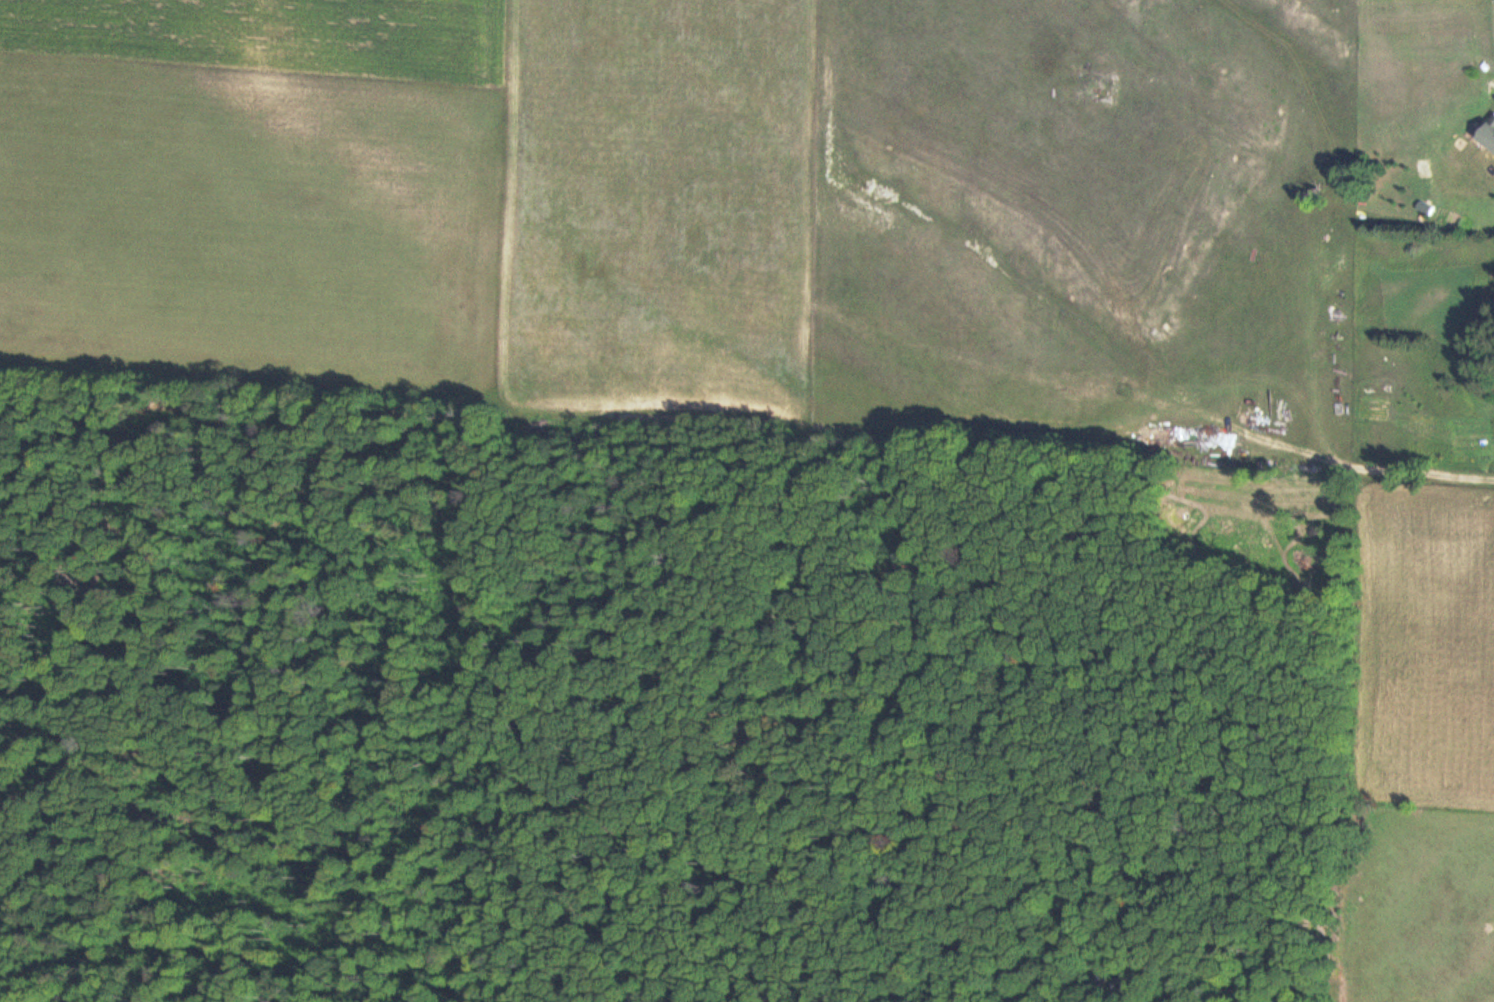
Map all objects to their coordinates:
building: (1490, 134)

